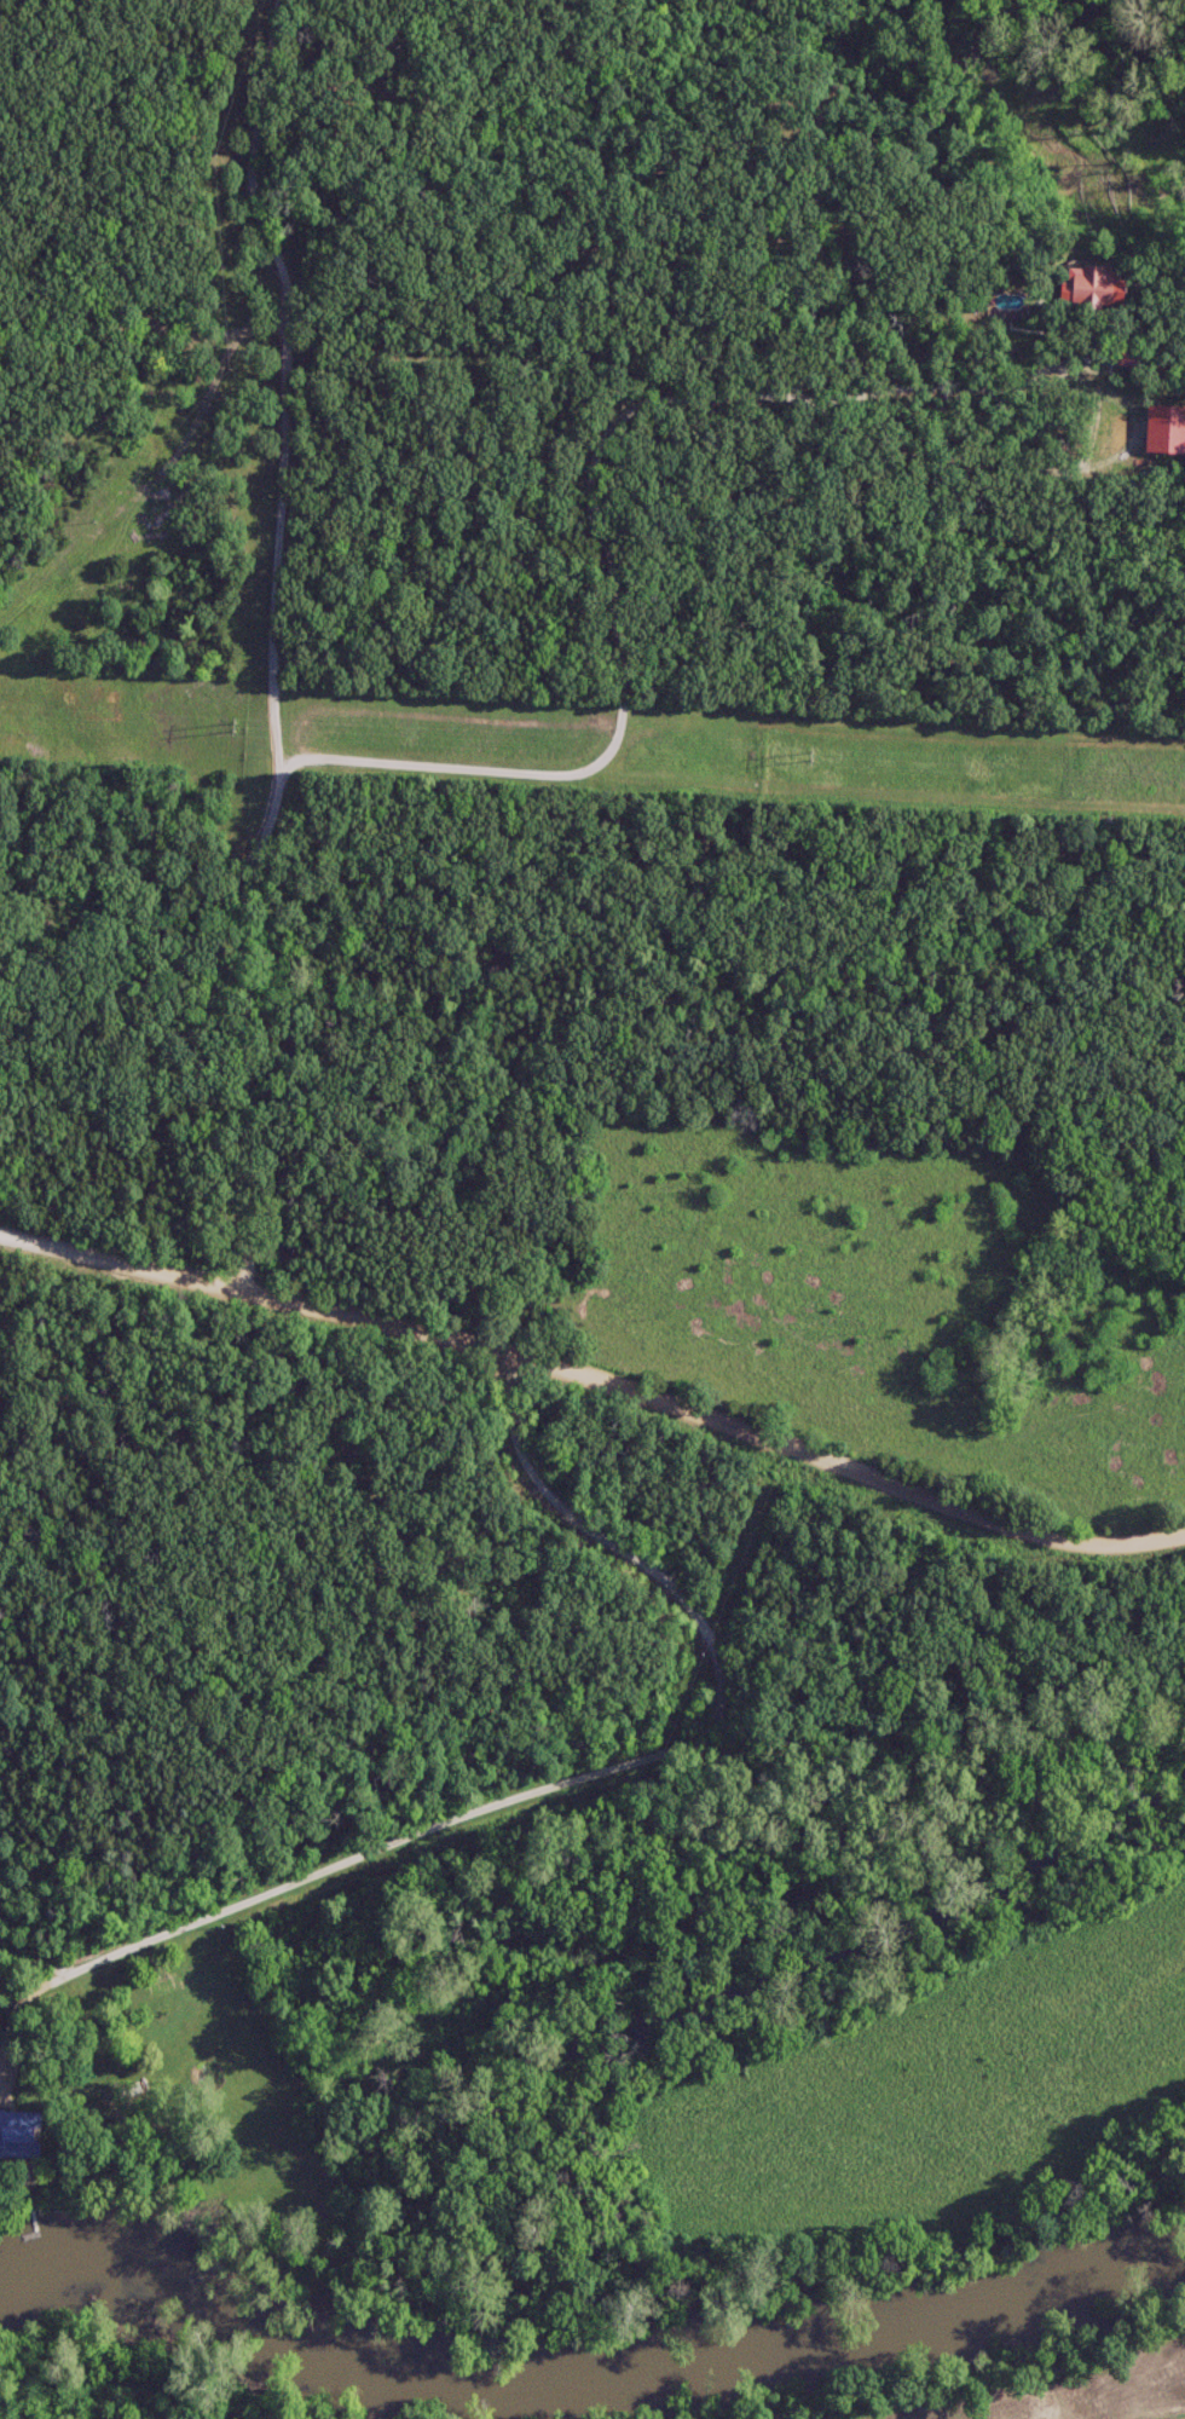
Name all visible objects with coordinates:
building: (1077, 293)
power tower: (236, 728)
power tower: (808, 757)
road: (597, 1376)
building: (12, 2137)

